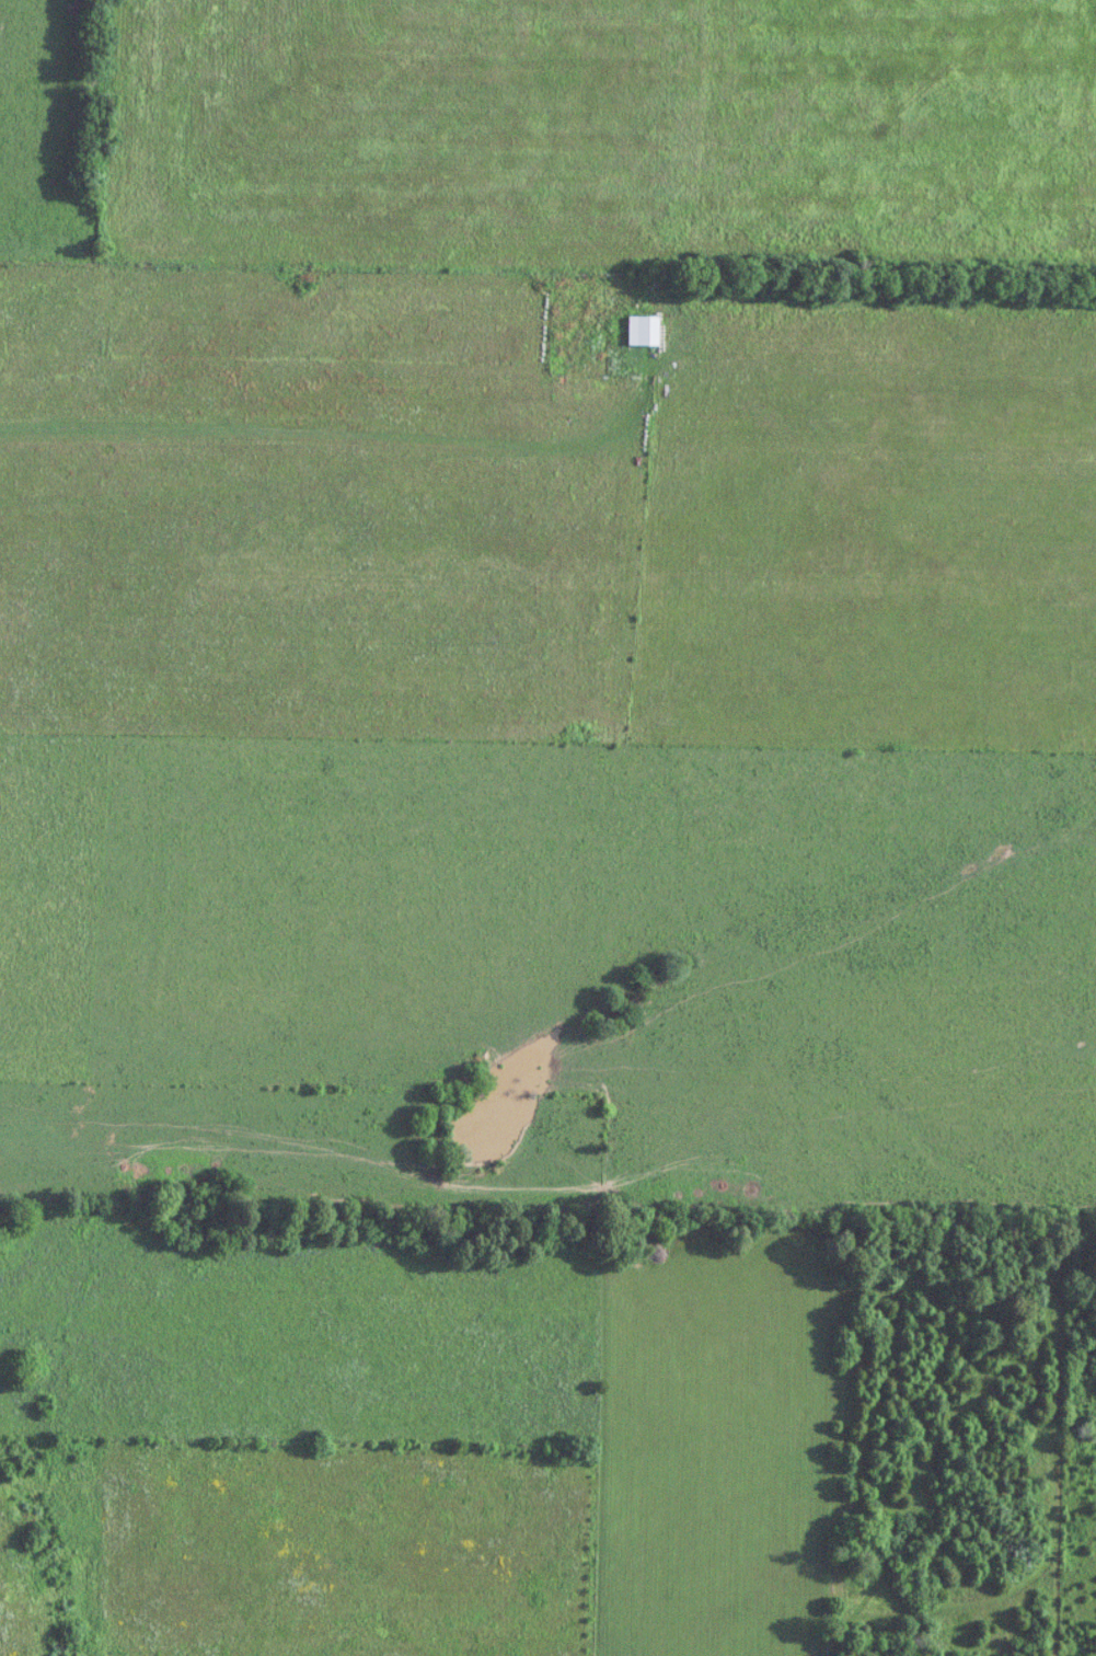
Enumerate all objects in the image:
building: (639, 331)

